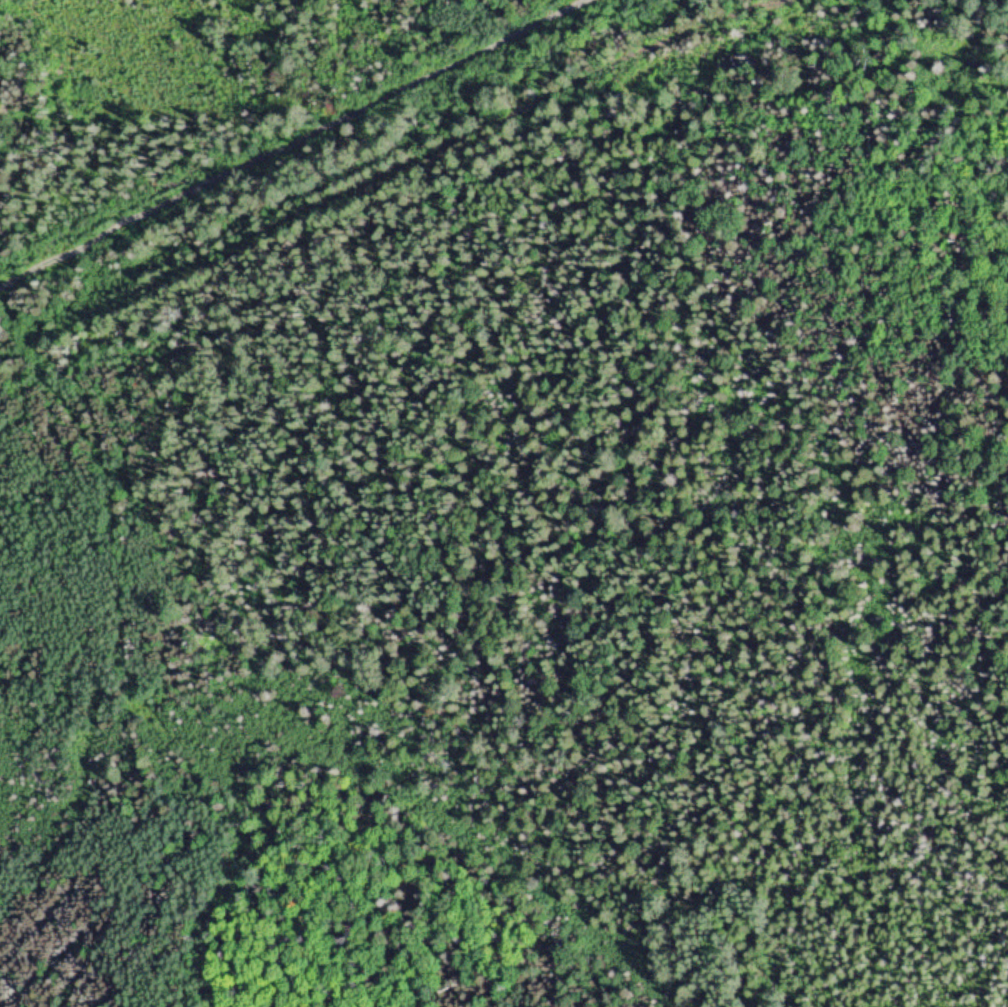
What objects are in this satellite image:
road: (292, 144)
railway: (388, 172)

